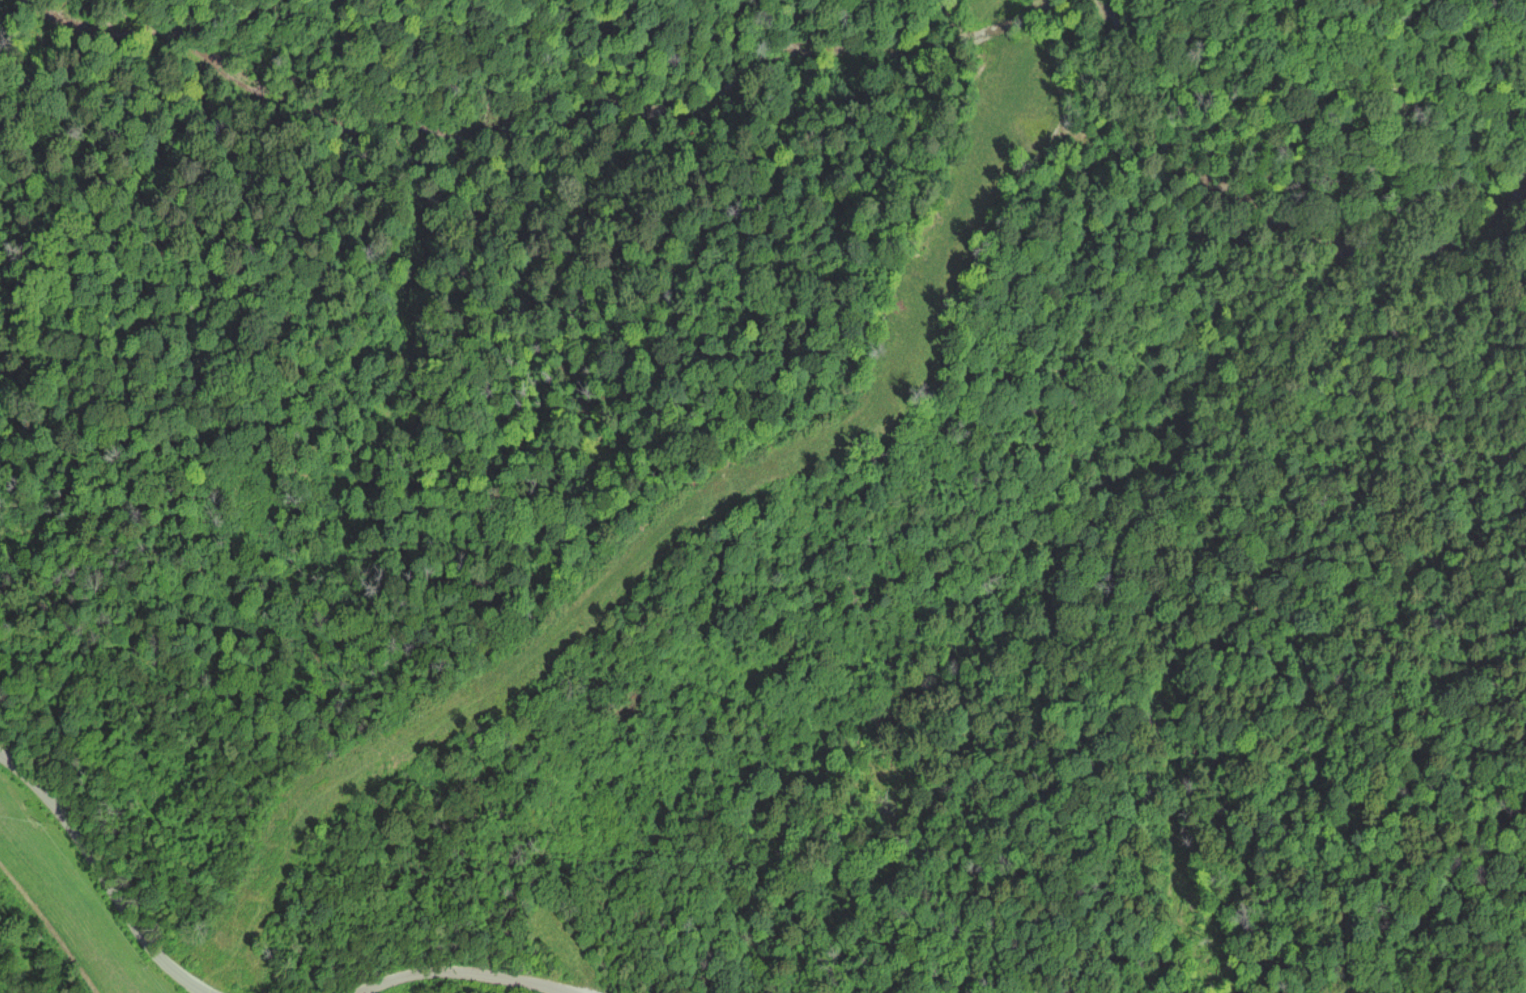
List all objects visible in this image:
road: (98, 875)
road: (455, 973)

